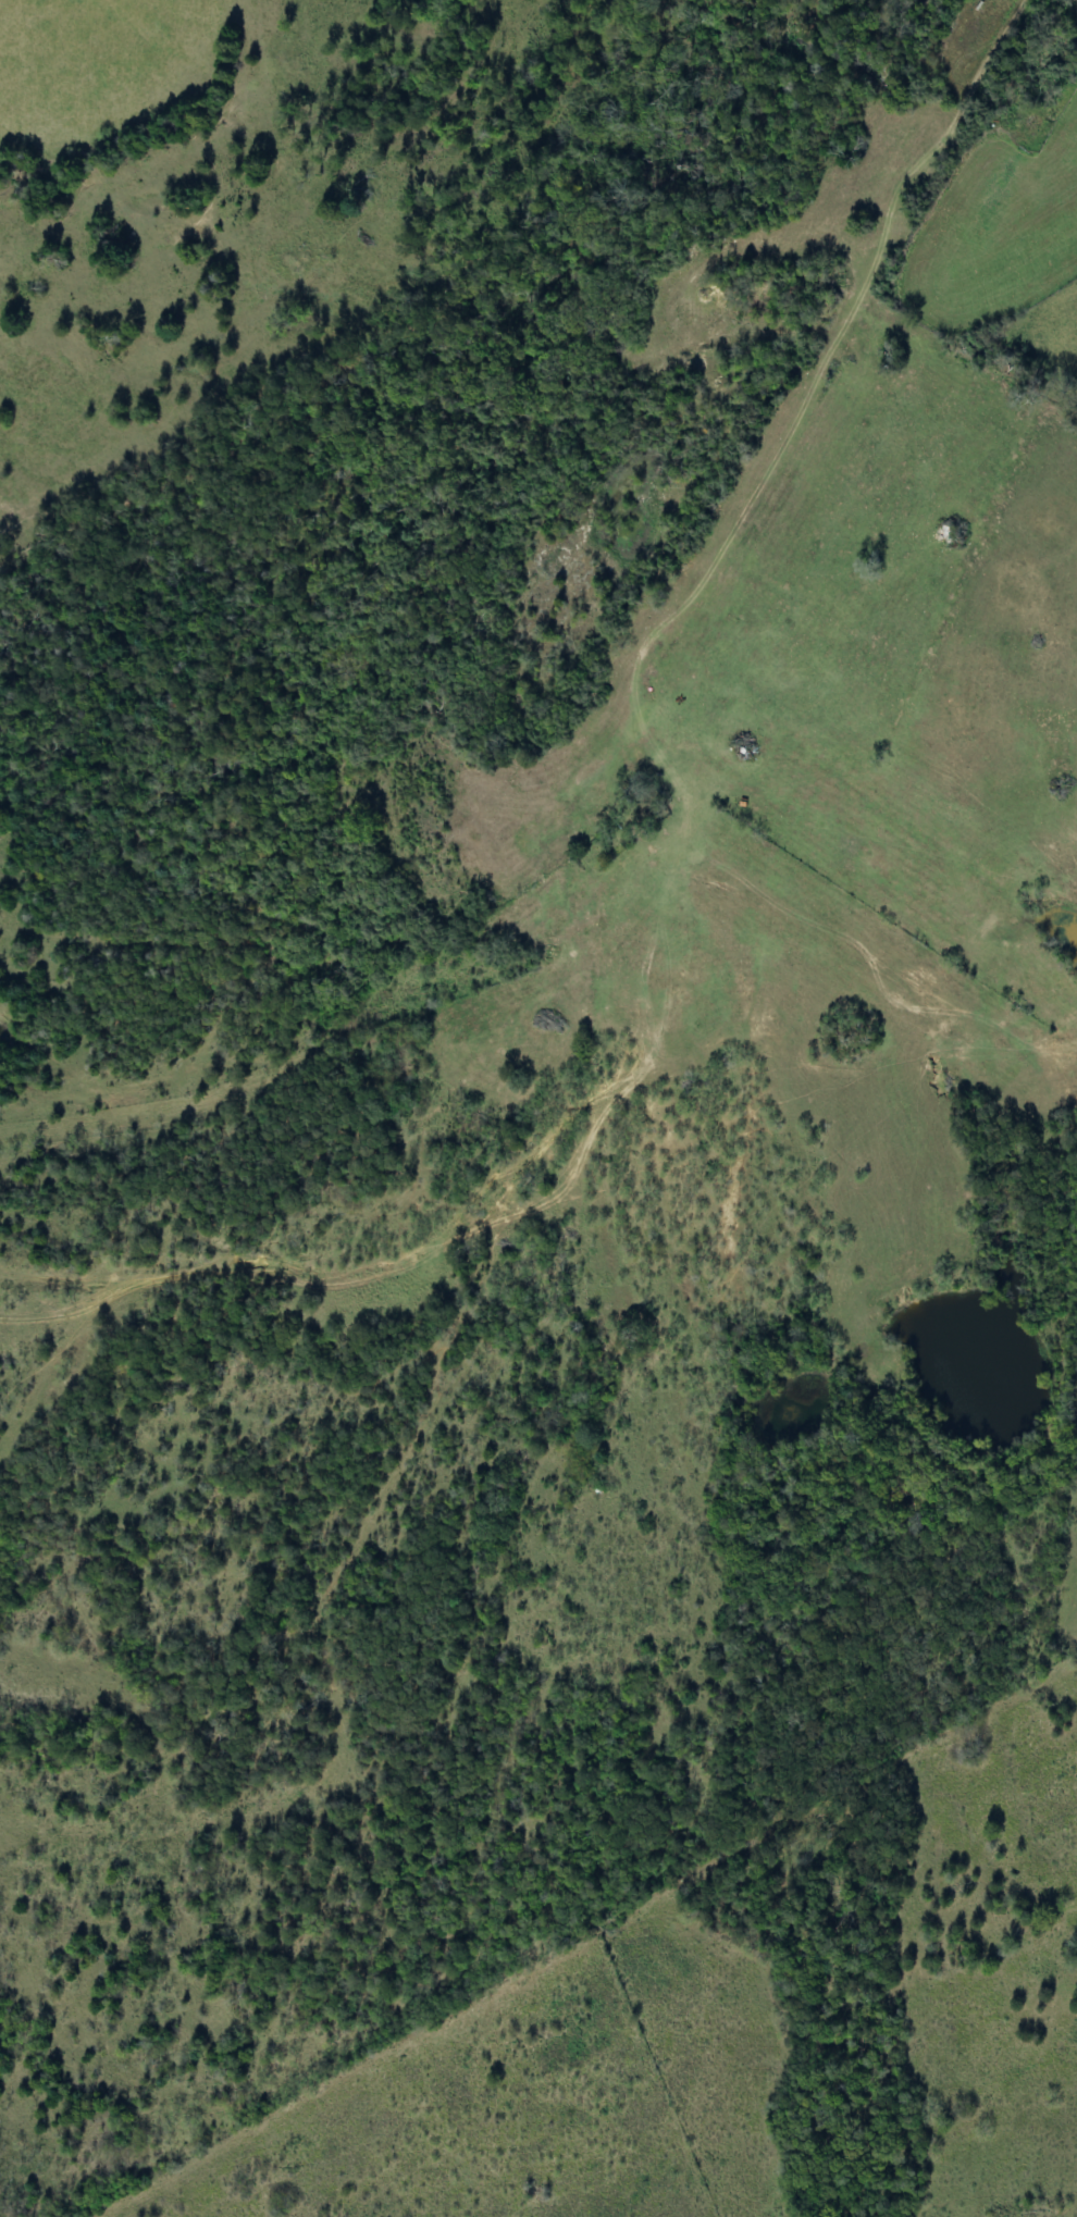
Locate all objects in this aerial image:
road: (872, 387)

